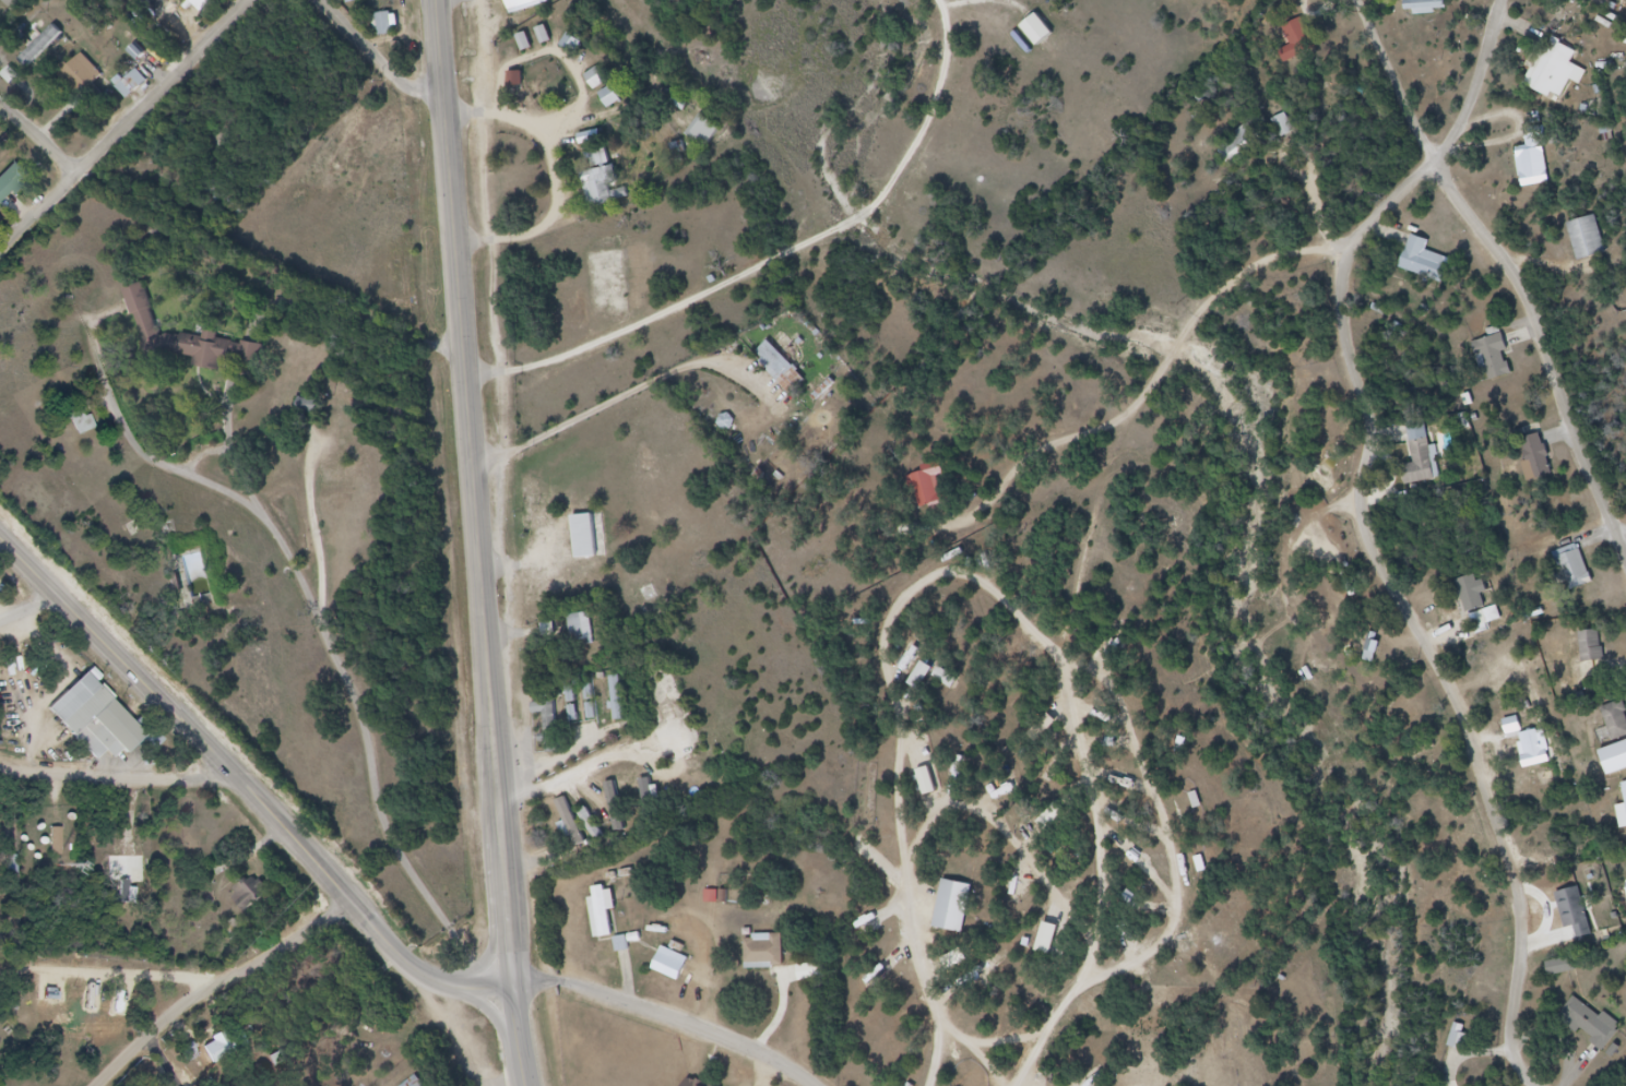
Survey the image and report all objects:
building: (348, 0)
building: (365, 1)
building: (522, 2)
building: (200, 3)
building: (21, 4)
building: (1433, 5)
building: (183, 11)
building: (177, 15)
building: (385, 24)
building: (1036, 31)
building: (543, 35)
building: (1298, 38)
building: (571, 45)
building: (39, 47)
road: (382, 56)
building: (1564, 72)
building: (90, 75)
building: (515, 79)
building: (595, 79)
building: (138, 87)
building: (609, 98)
road: (122, 126)
road: (43, 127)
building: (1289, 129)
building: (702, 132)
road: (1457, 141)
building: (1249, 148)
building: (1540, 166)
road: (455, 178)
building: (605, 188)
building: (16, 189)
building: (0, 214)
building: (1594, 243)
road: (1512, 260)
building: (1434, 265)
building: (201, 350)
building: (1503, 359)
road: (1175, 362)
building: (784, 370)
road: (631, 398)
building: (307, 409)
building: (1419, 455)
building: (1431, 460)
building: (1547, 461)
building: (937, 494)
building: (583, 537)
building: (594, 546)
building: (1581, 573)
building: (1479, 597)
road: (35, 617)
building: (581, 630)
road: (335, 634)
building: (1591, 647)
building: (1600, 655)
road: (1447, 670)
building: (570, 695)
building: (617, 699)
building: (591, 702)
building: (1616, 720)
road: (496, 723)
building: (555, 726)
building: (105, 727)
building: (1533, 745)
building: (1618, 753)
road: (121, 769)
road: (575, 773)
road: (247, 783)
building: (1625, 788)
building: (648, 795)
building: (615, 808)
building: (1625, 813)
building: (591, 825)
building: (567, 830)
building: (13, 868)
building: (254, 899)
building: (960, 916)
building: (1582, 917)
building: (610, 919)
building: (776, 956)
building: (1560, 966)
building: (678, 969)
road: (106, 974)
road: (216, 980)
road: (675, 1010)
building: (1599, 1027)
road: (1060, 1028)
building: (1459, 1041)
building: (216, 1045)
road: (167, 1059)
building: (415, 1082)
building: (423, 1083)

